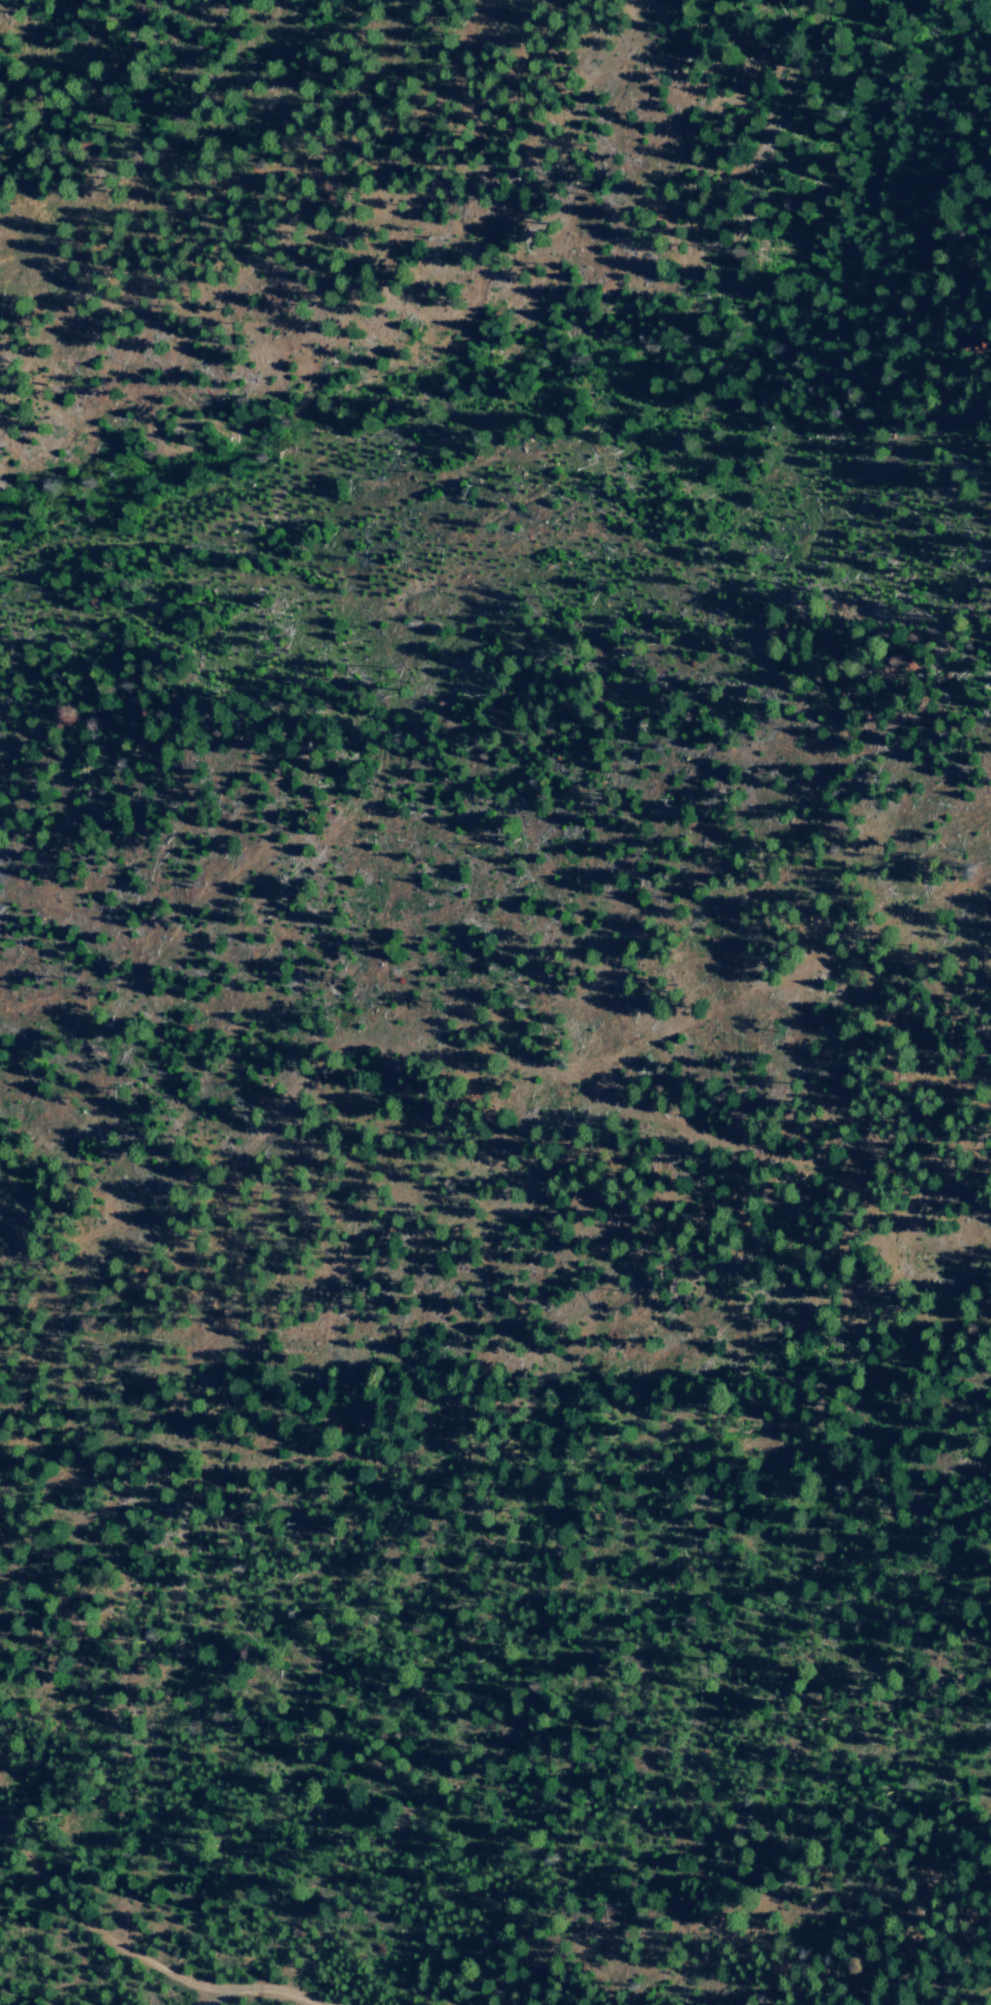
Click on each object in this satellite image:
road: (143, 1962)

